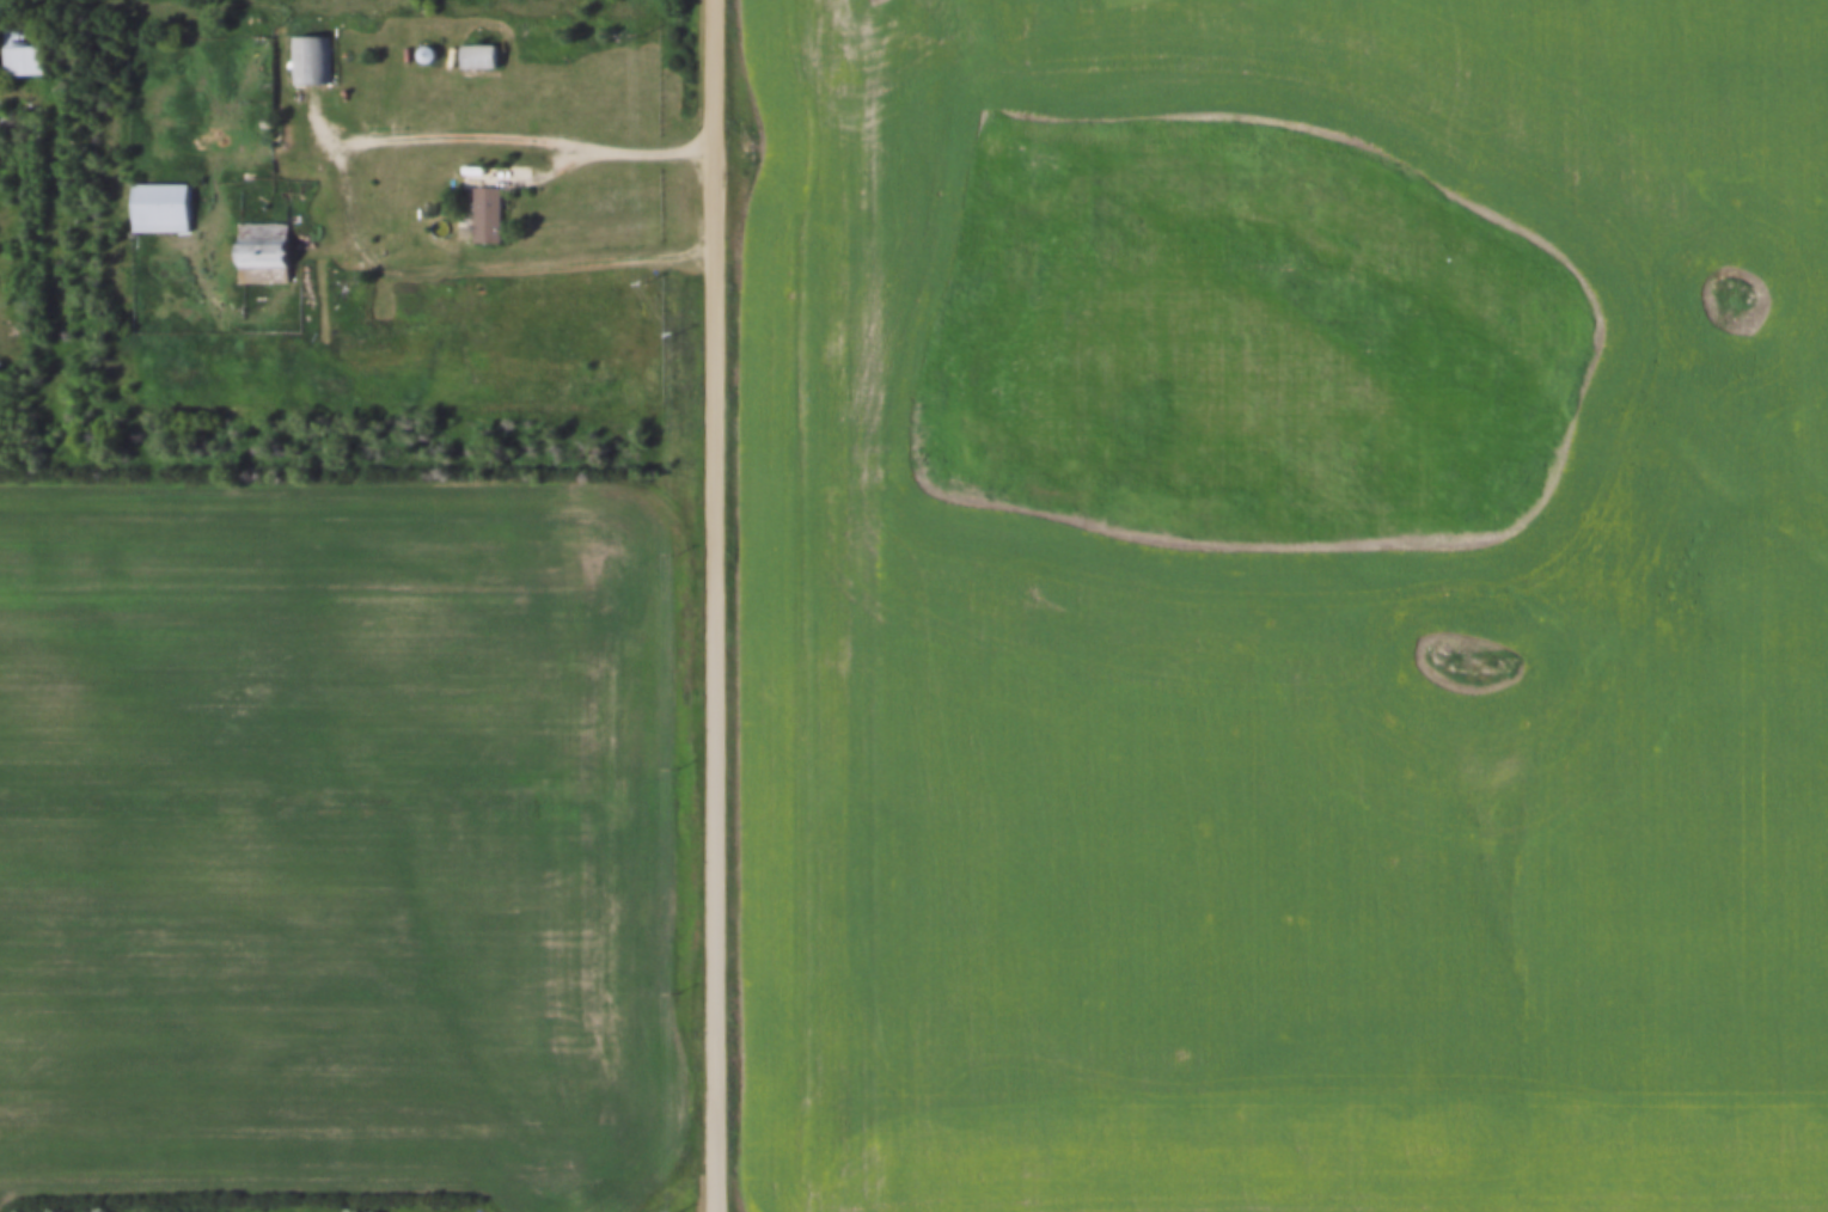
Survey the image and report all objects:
building: (18, 45)
building: (421, 45)
silo: (421, 45)
building: (473, 48)
building: (305, 51)
building: (479, 60)
building: (157, 200)
road: (356, 201)
building: (483, 206)
building: (261, 246)
building: (354, 269)
building: (7, 319)
road: (717, 605)

